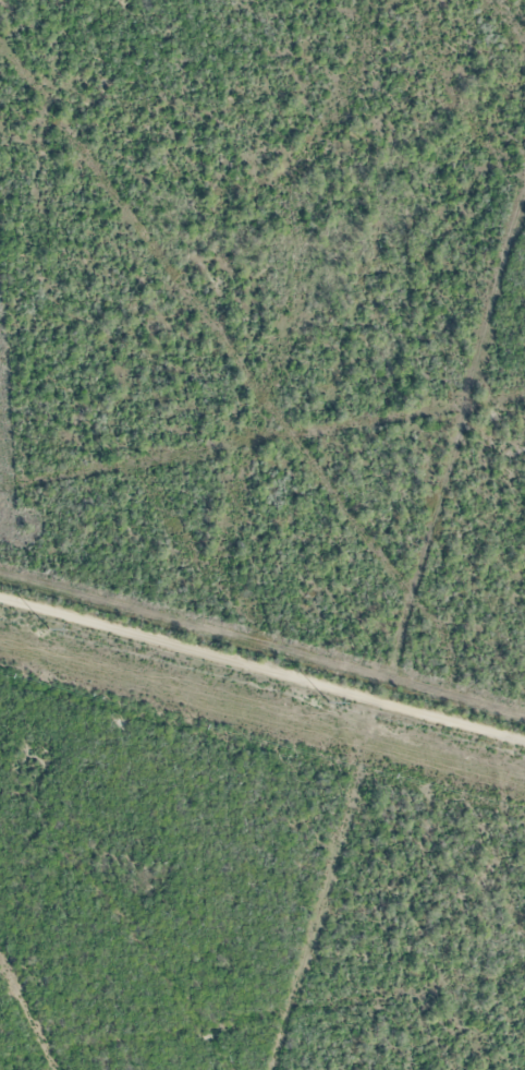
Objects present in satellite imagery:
power tower: (49, 627)
road: (261, 670)
power tower: (330, 705)

